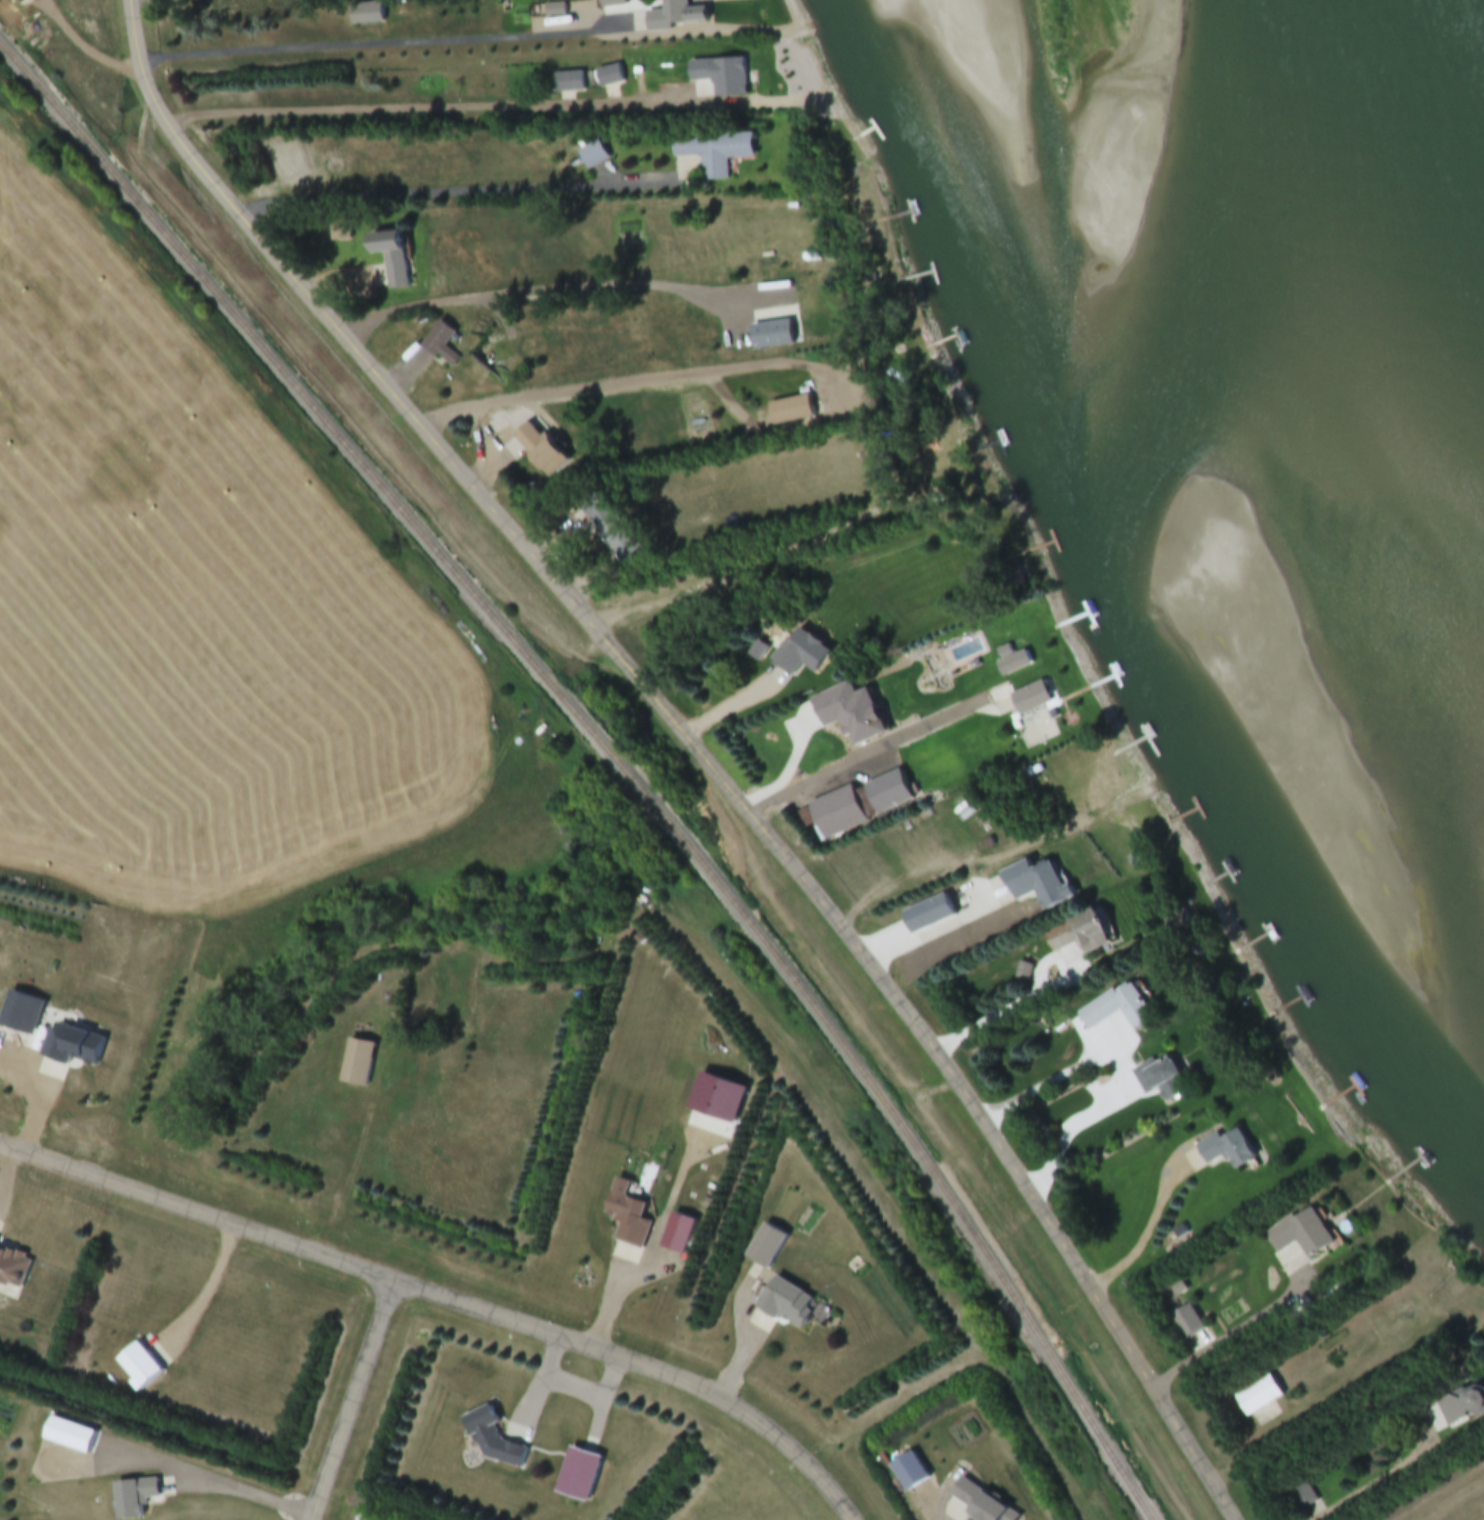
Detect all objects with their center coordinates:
building: (614, 3)
building: (556, 10)
building: (368, 14)
building: (668, 15)
road: (375, 44)
road: (84, 47)
building: (610, 76)
building: (723, 76)
building: (569, 82)
building: (715, 152)
building: (594, 155)
road: (455, 194)
building: (395, 258)
road: (535, 294)
building: (445, 344)
road: (637, 384)
building: (793, 410)
building: (543, 449)
building: (612, 529)
road: (590, 547)
road: (770, 560)
building: (805, 653)
building: (1014, 661)
building: (1034, 698)
building: (854, 713)
road: (694, 745)
railway: (611, 748)
road: (879, 751)
building: (841, 813)
building: (1135, 861)
building: (1040, 886)
building: (933, 915)
building: (1179, 923)
building: (1082, 934)
road: (1052, 1001)
building: (1120, 1009)
building: (21, 1012)
building: (73, 1045)
building: (359, 1064)
building: (1165, 1079)
road: (1058, 1080)
road: (1066, 1138)
building: (1229, 1151)
road: (343, 1171)
road: (196, 1210)
building: (630, 1219)
road: (1151, 1232)
building: (680, 1234)
building: (1304, 1235)
building: (769, 1246)
building: (13, 1270)
road: (213, 1290)
building: (790, 1304)
road: (1232, 1335)
road: (643, 1366)
building: (141, 1368)
road: (573, 1384)
building: (1261, 1397)
road: (356, 1399)
building: (1464, 1408)
road: (1304, 1412)
building: (71, 1436)
building: (494, 1440)
building: (911, 1473)
building: (580, 1475)
road: (210, 1481)
road: (1376, 1486)
building: (1303, 1497)
building: (135, 1498)
building: (982, 1503)

